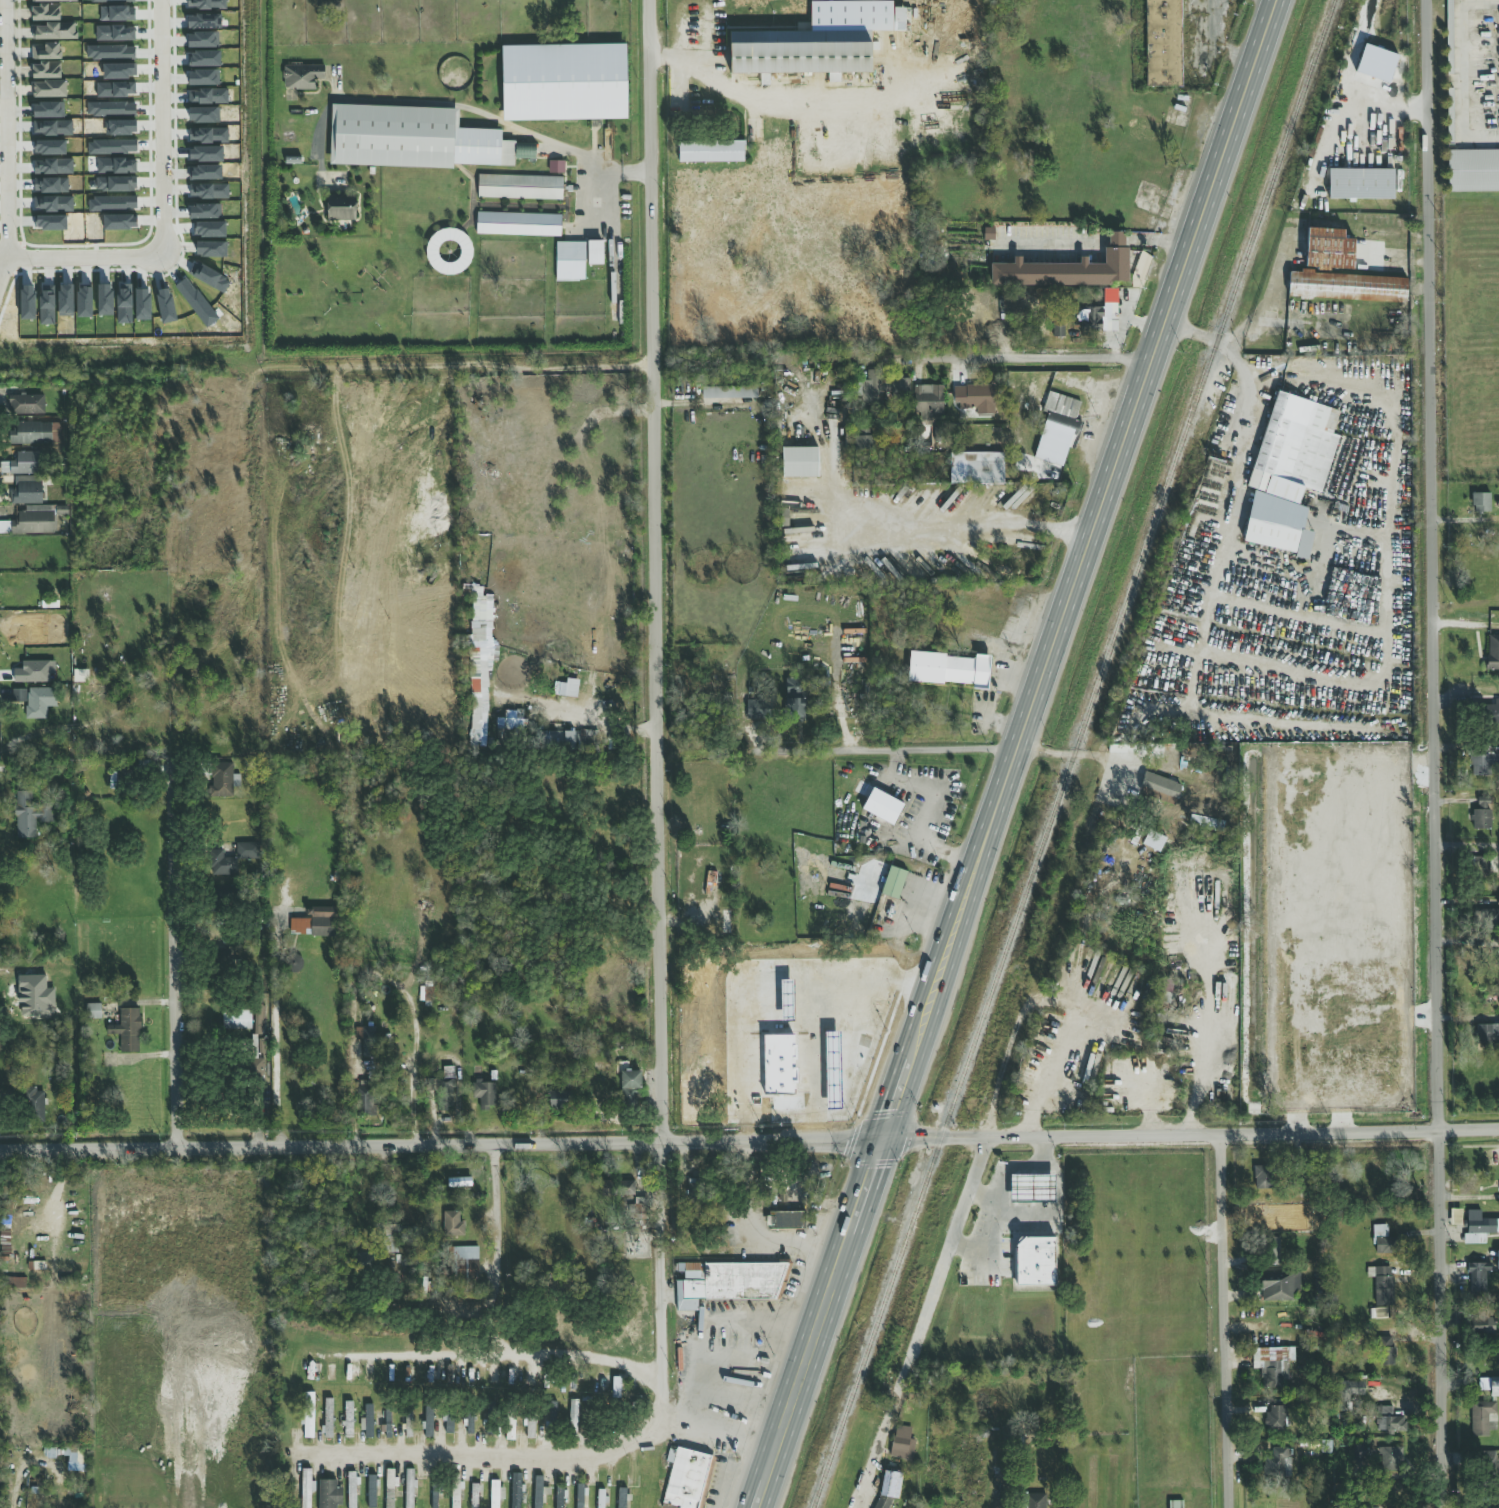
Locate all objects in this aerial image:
building: (53, 1)
building: (45, 13)
building: (54, 32)
building: (1163, 43)
road: (2, 46)
building: (45, 52)
building: (798, 52)
building: (1376, 64)
road: (1458, 69)
building: (46, 70)
building: (303, 76)
building: (564, 83)
building: (49, 89)
road: (778, 102)
road: (468, 109)
road: (1387, 111)
building: (412, 139)
building: (711, 151)
building: (525, 152)
building: (1473, 170)
building: (1360, 184)
building: (519, 187)
building: (341, 208)
building: (518, 224)
road: (1093, 240)
road: (1428, 240)
building: (449, 252)
building: (595, 253)
road: (127, 261)
road: (3, 262)
building: (570, 262)
building: (1068, 269)
building: (1140, 270)
building: (1339, 273)
building: (1109, 310)
building: (1090, 318)
road: (1007, 361)
road: (553, 367)
building: (880, 388)
building: (729, 392)
building: (974, 398)
building: (928, 401)
building: (26, 404)
building: (1061, 420)
building: (30, 433)
building: (863, 443)
building: (799, 462)
building: (23, 464)
road: (1237, 467)
building: (1289, 472)
building: (26, 491)
building: (1480, 502)
road: (1099, 514)
road: (1308, 520)
building: (32, 521)
road: (920, 525)
road: (452, 537)
road: (1387, 558)
road: (1295, 616)
building: (1493, 652)
road: (655, 656)
building: (480, 669)
building: (949, 669)
building: (34, 672)
building: (566, 688)
building: (18, 697)
building: (793, 700)
building: (36, 703)
building: (756, 709)
building: (1492, 712)
road: (842, 717)
building: (511, 720)
building: (556, 740)
building: (589, 741)
road: (880, 751)
road: (701, 753)
road: (1068, 754)
railway: (1073, 754)
building: (1483, 762)
building: (224, 780)
building: (1160, 789)
building: (882, 806)
building: (30, 815)
building: (1481, 815)
building: (1152, 841)
building: (247, 851)
building: (223, 864)
building: (1483, 864)
building: (893, 882)
building: (1489, 918)
building: (315, 923)
road: (171, 955)
road: (377, 975)
building: (426, 994)
road: (1434, 994)
road: (1052, 1001)
building: (93, 1011)
building: (236, 1020)
building: (127, 1030)
building: (1487, 1033)
road: (280, 1035)
building: (366, 1041)
road: (901, 1085)
building: (630, 1086)
building: (446, 1090)
building: (485, 1094)
building: (558, 1100)
building: (36, 1105)
road: (1190, 1136)
traffic signals: (882, 1142)
road: (440, 1144)
building: (1262, 1177)
building: (617, 1188)
building: (1468, 1188)
building: (1032, 1189)
road: (983, 1196)
road: (998, 1197)
road: (863, 1198)
building: (1455, 1217)
building: (786, 1221)
building: (1480, 1223)
building: (453, 1224)
road: (499, 1229)
building: (4, 1232)
road: (755, 1233)
building: (391, 1239)
building: (1383, 1240)
building: (1269, 1251)
building: (365, 1258)
building: (1035, 1261)
building: (1498, 1261)
building: (465, 1263)
road: (940, 1273)
building: (1478, 1279)
building: (15, 1283)
building: (729, 1283)
building: (1383, 1286)
building: (1278, 1289)
road: (549, 1313)
building: (1379, 1313)
building: (989, 1318)
building: (1027, 1322)
road: (1226, 1322)
building: (1482, 1326)
building: (1385, 1352)
road: (509, 1357)
road: (808, 1360)
building: (1272, 1364)
road: (660, 1369)
building: (1482, 1384)
building: (616, 1387)
building: (1494, 1388)
building: (1343, 1396)
building: (552, 1415)
building: (308, 1416)
building: (1481, 1417)
building: (328, 1418)
building: (573, 1418)
building: (1276, 1418)
building: (348, 1419)
building: (369, 1421)
building: (428, 1421)
building: (1387, 1421)
building: (449, 1423)
building: (388, 1424)
building: (408, 1424)
building: (469, 1425)
building: (529, 1426)
building: (902, 1444)
building: (1358, 1452)
road: (555, 1456)
building: (1390, 1460)
building: (1274, 1463)
building: (1486, 1468)
building: (687, 1478)
building: (890, 1484)
road: (763, 1487)
building: (306, 1488)
building: (389, 1488)
building: (409, 1488)
building: (352, 1490)
building: (516, 1490)
building: (372, 1491)
building: (436, 1491)
building: (455, 1492)
building: (538, 1492)
building: (496, 1493)
building: (329, 1494)
building: (475, 1496)
building: (581, 1496)
building: (559, 1497)
building: (622, 1498)
building: (601, 1499)
building: (1033, 1501)
building: (882, 1502)
building: (1175, 1504)
building: (1374, 1507)

